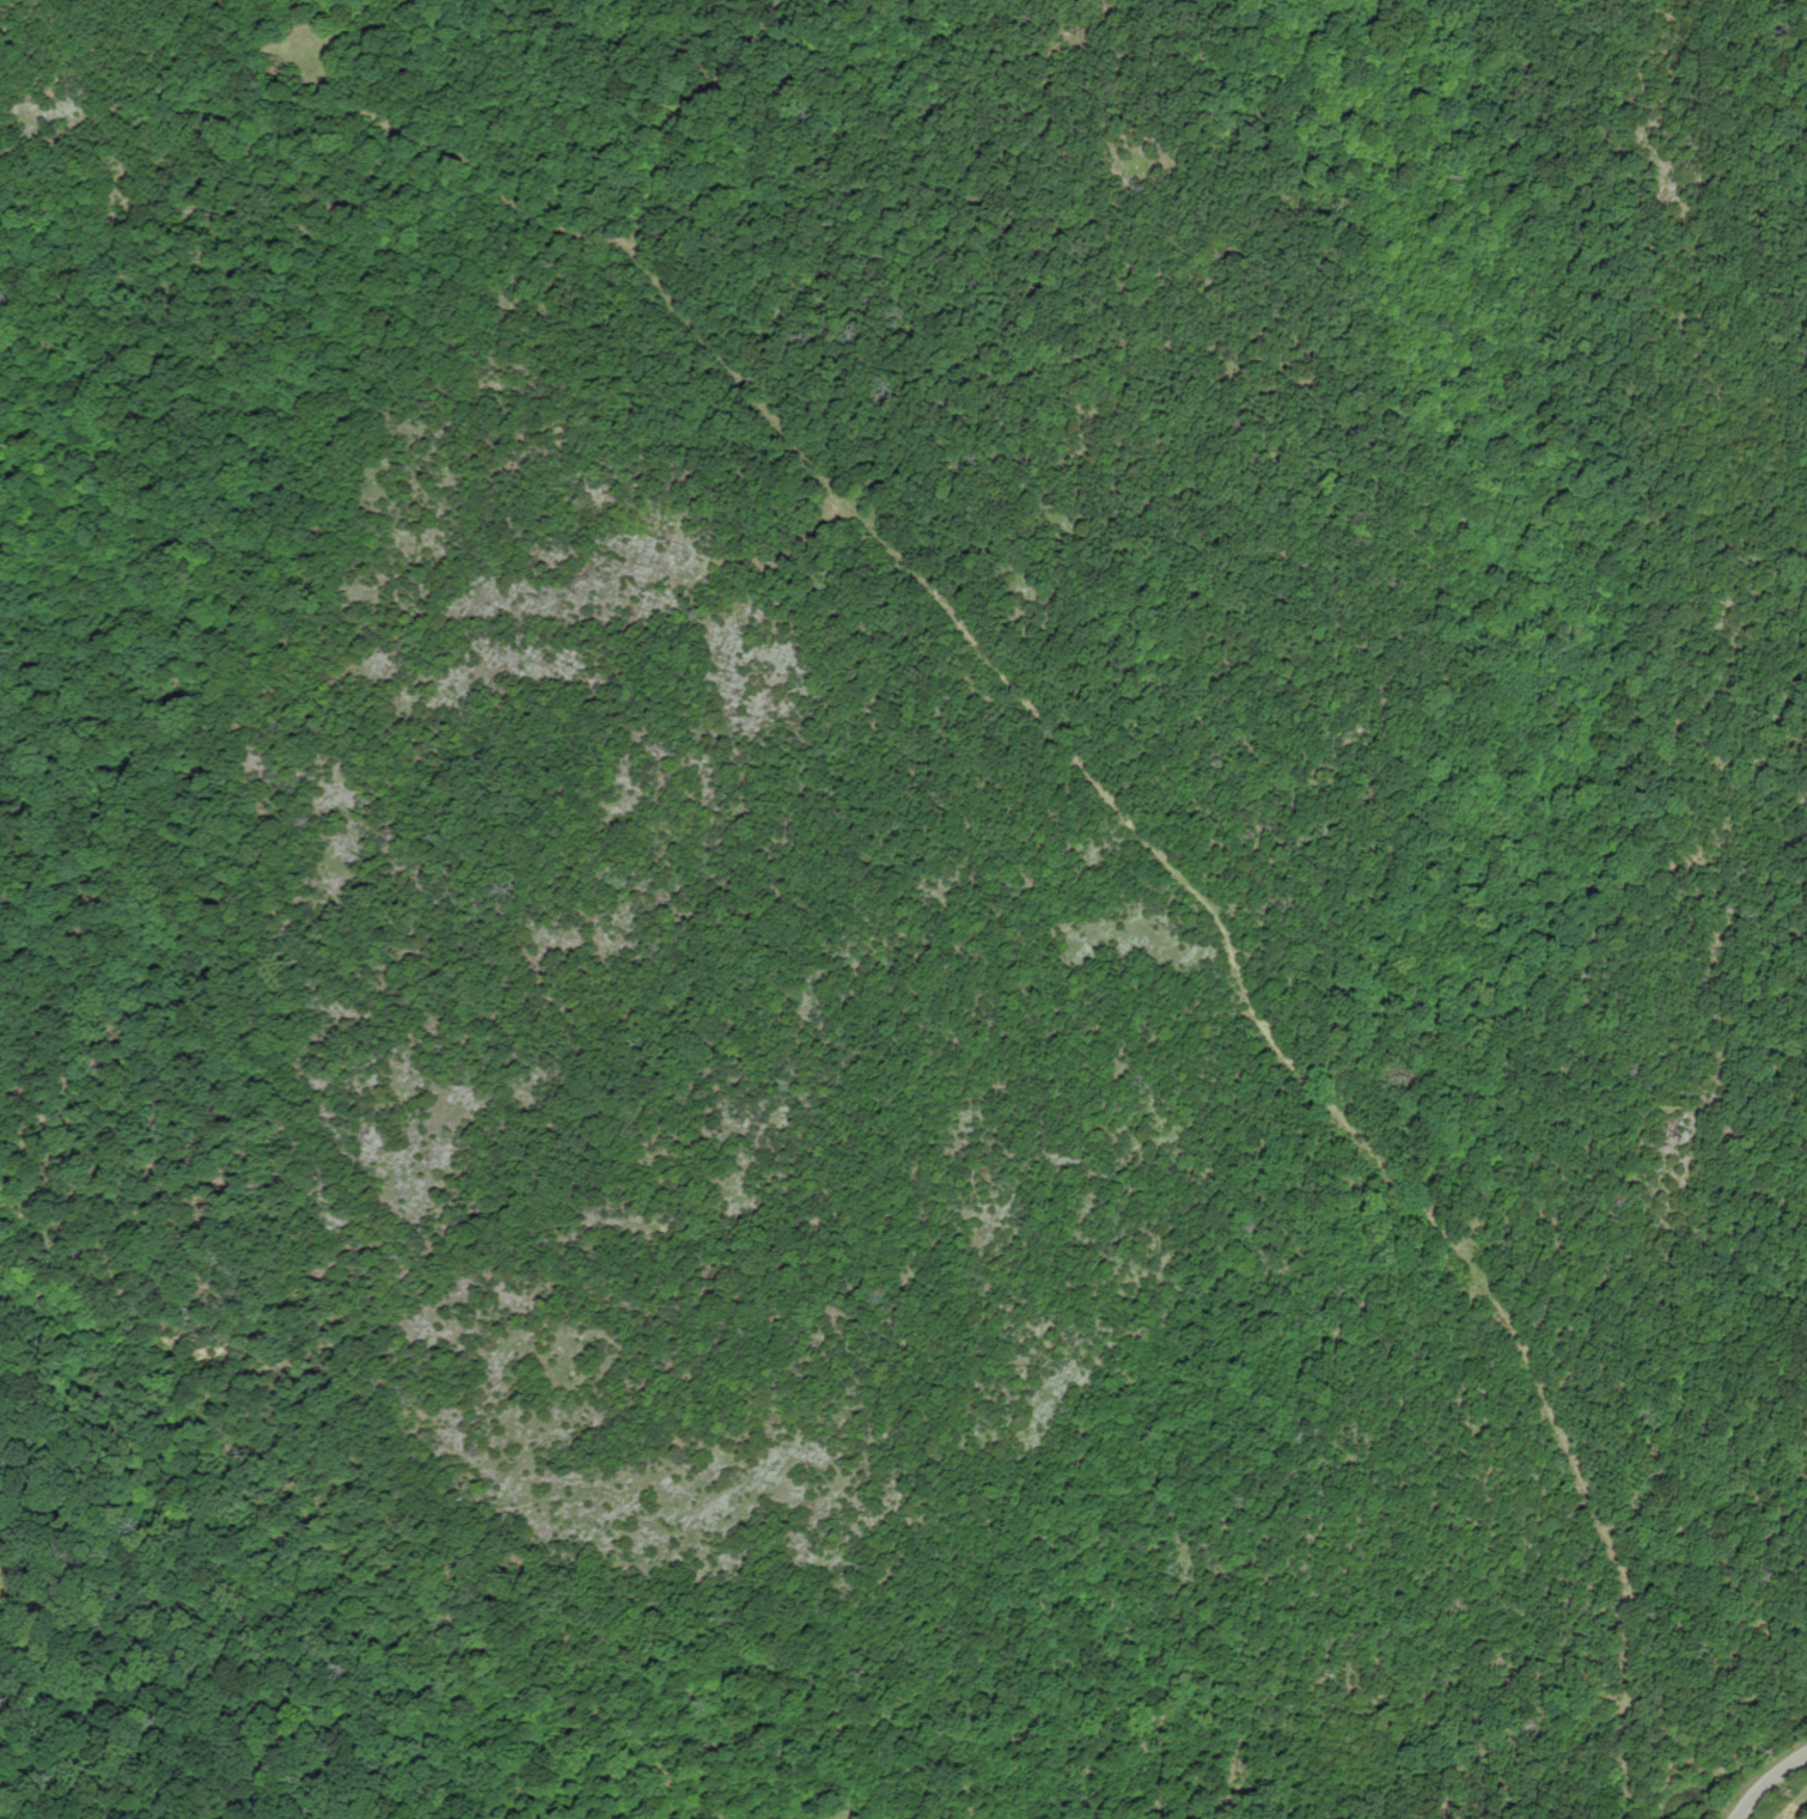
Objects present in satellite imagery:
road: (1784, 1796)

